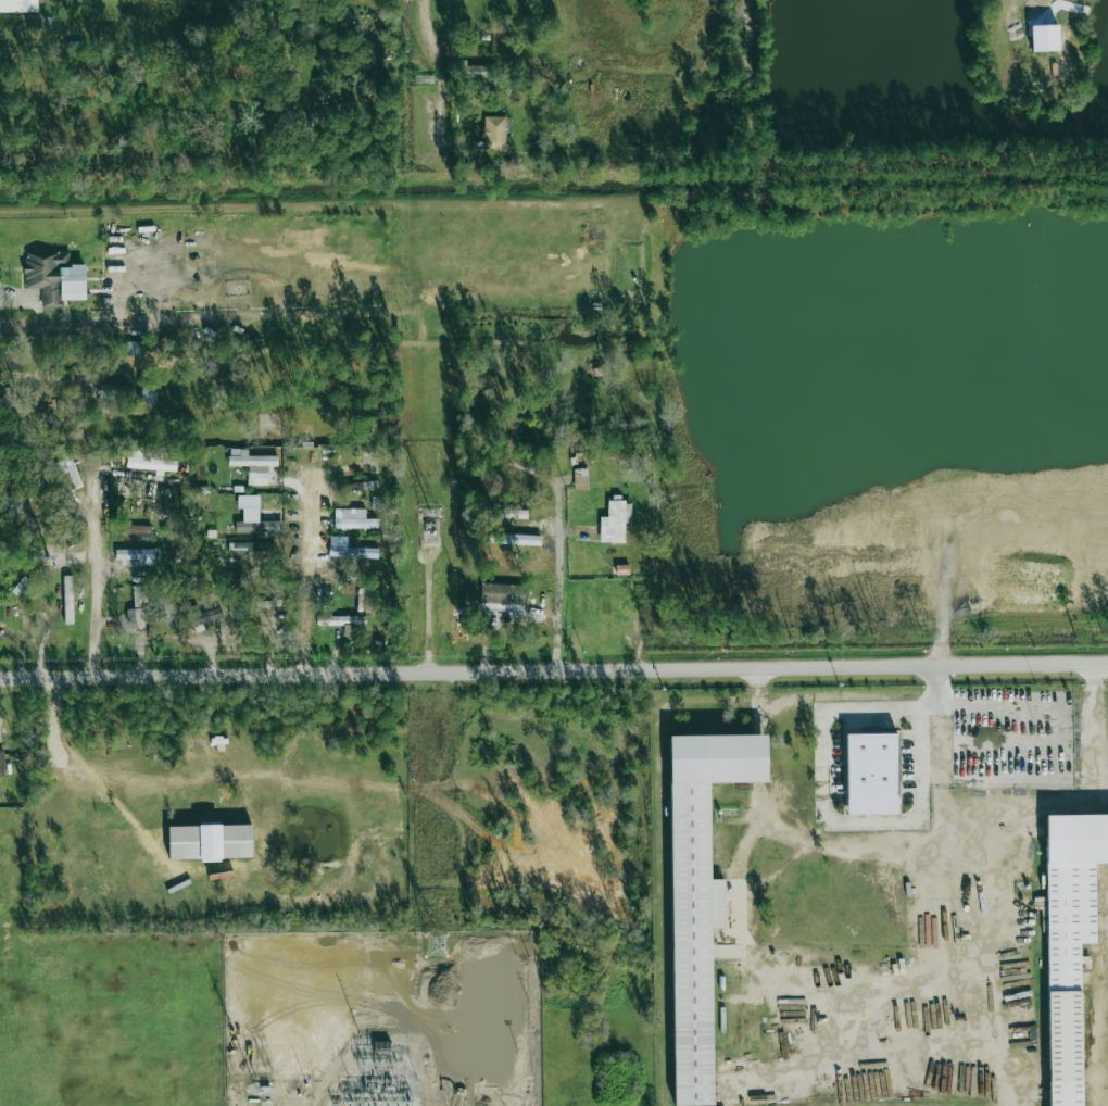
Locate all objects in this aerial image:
building: (18, 5)
building: (1044, 37)
road: (438, 65)
building: (474, 71)
power tower: (425, 79)
building: (494, 133)
building: (54, 277)
road: (8, 294)
building: (133, 348)
road: (37, 376)
building: (115, 391)
building: (148, 393)
building: (151, 461)
building: (252, 465)
building: (68, 468)
power tower: (429, 513)
building: (513, 514)
building: (352, 518)
building: (615, 521)
building: (259, 524)
building: (136, 529)
building: (515, 539)
building: (249, 546)
building: (137, 555)
road: (559, 556)
road: (305, 560)
road: (426, 560)
road: (98, 571)
building: (502, 593)
building: (67, 599)
building: (260, 606)
building: (137, 608)
building: (198, 617)
building: (343, 621)
road: (553, 670)
road: (1000, 706)
road: (1093, 720)
road: (996, 742)
building: (1, 763)
building: (871, 774)
road: (997, 778)
road: (824, 791)
building: (210, 841)
building: (698, 894)
building: (1069, 940)
power tower: (436, 945)
power substation: (381, 1017)

